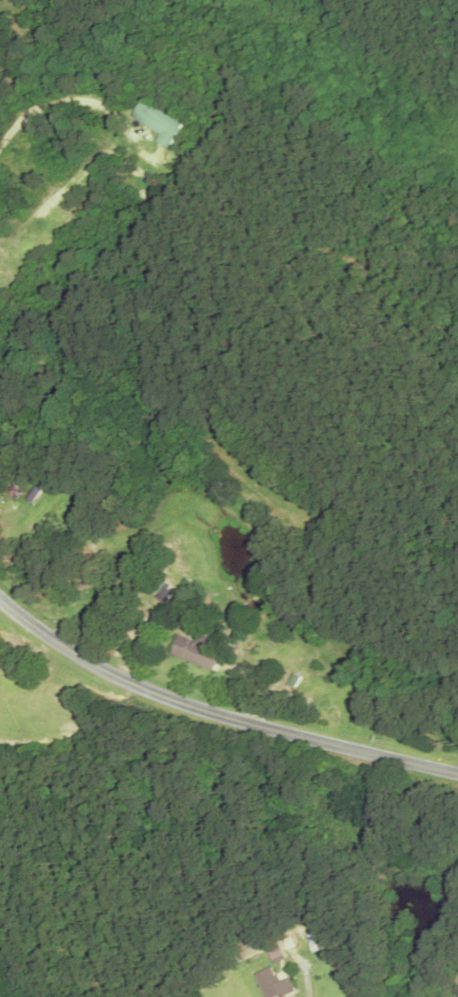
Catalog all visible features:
building: (155, 123)
building: (163, 595)
building: (191, 652)
road: (38, 687)
road: (217, 711)
building: (271, 984)

